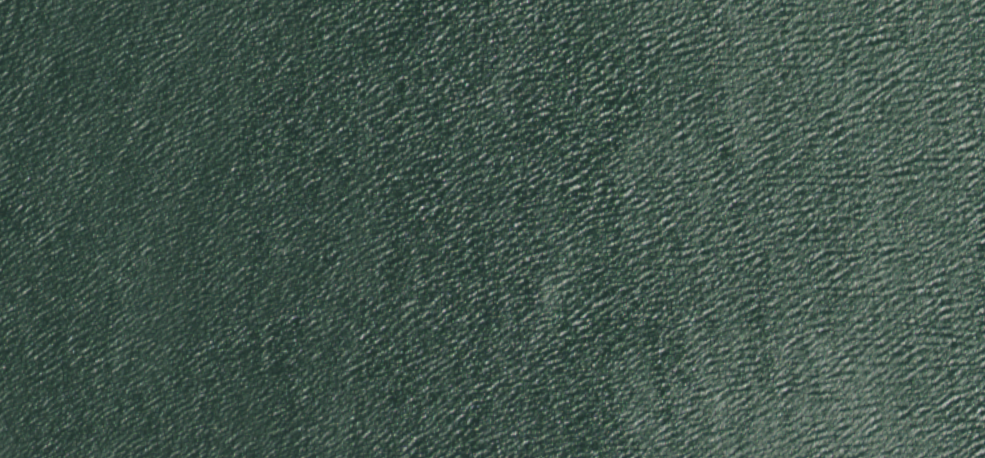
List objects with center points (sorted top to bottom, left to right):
park: (492, 229)
river: (221, 254)

